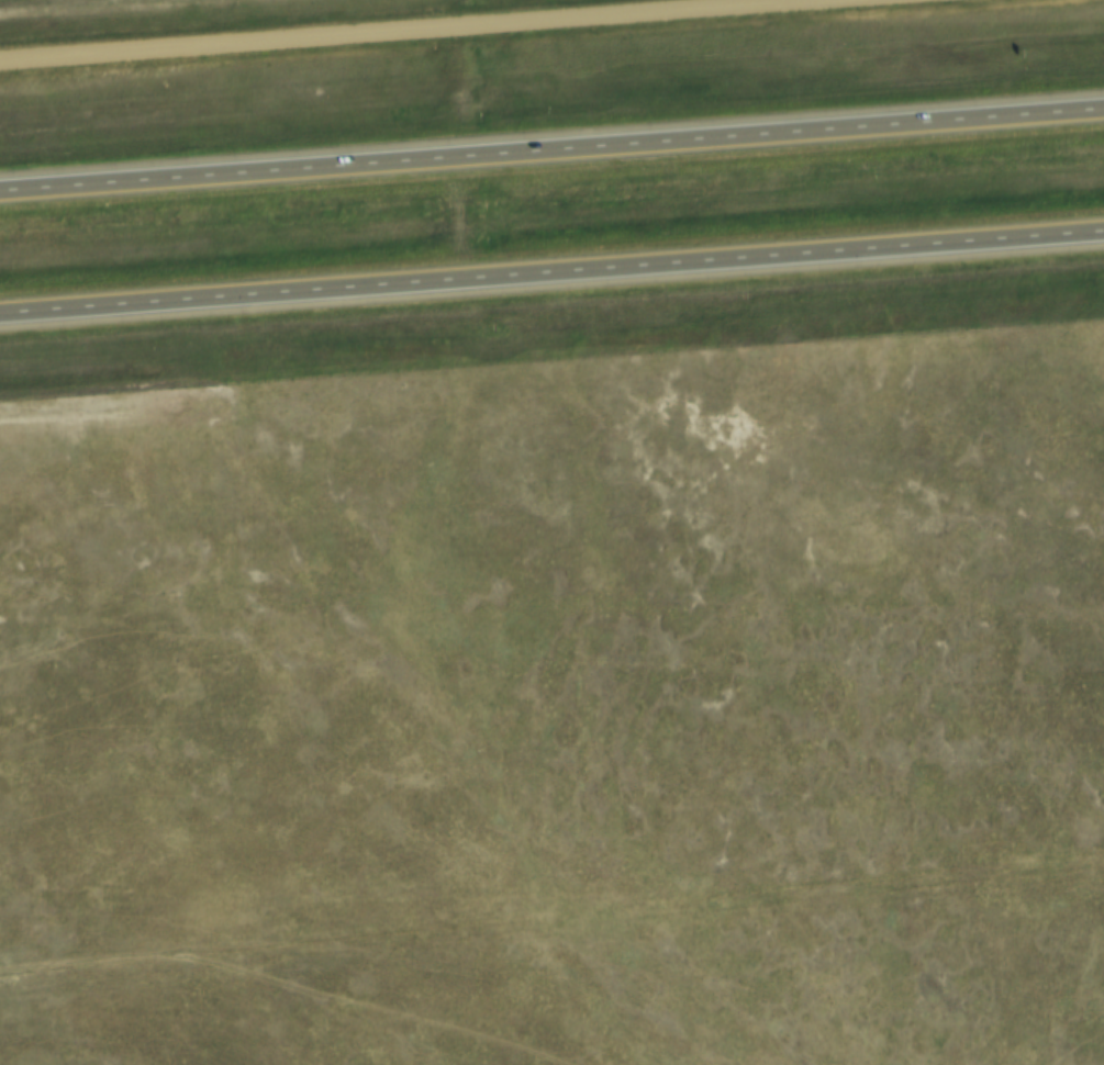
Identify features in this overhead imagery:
road: (420, 31)
road: (551, 152)
road: (551, 278)

